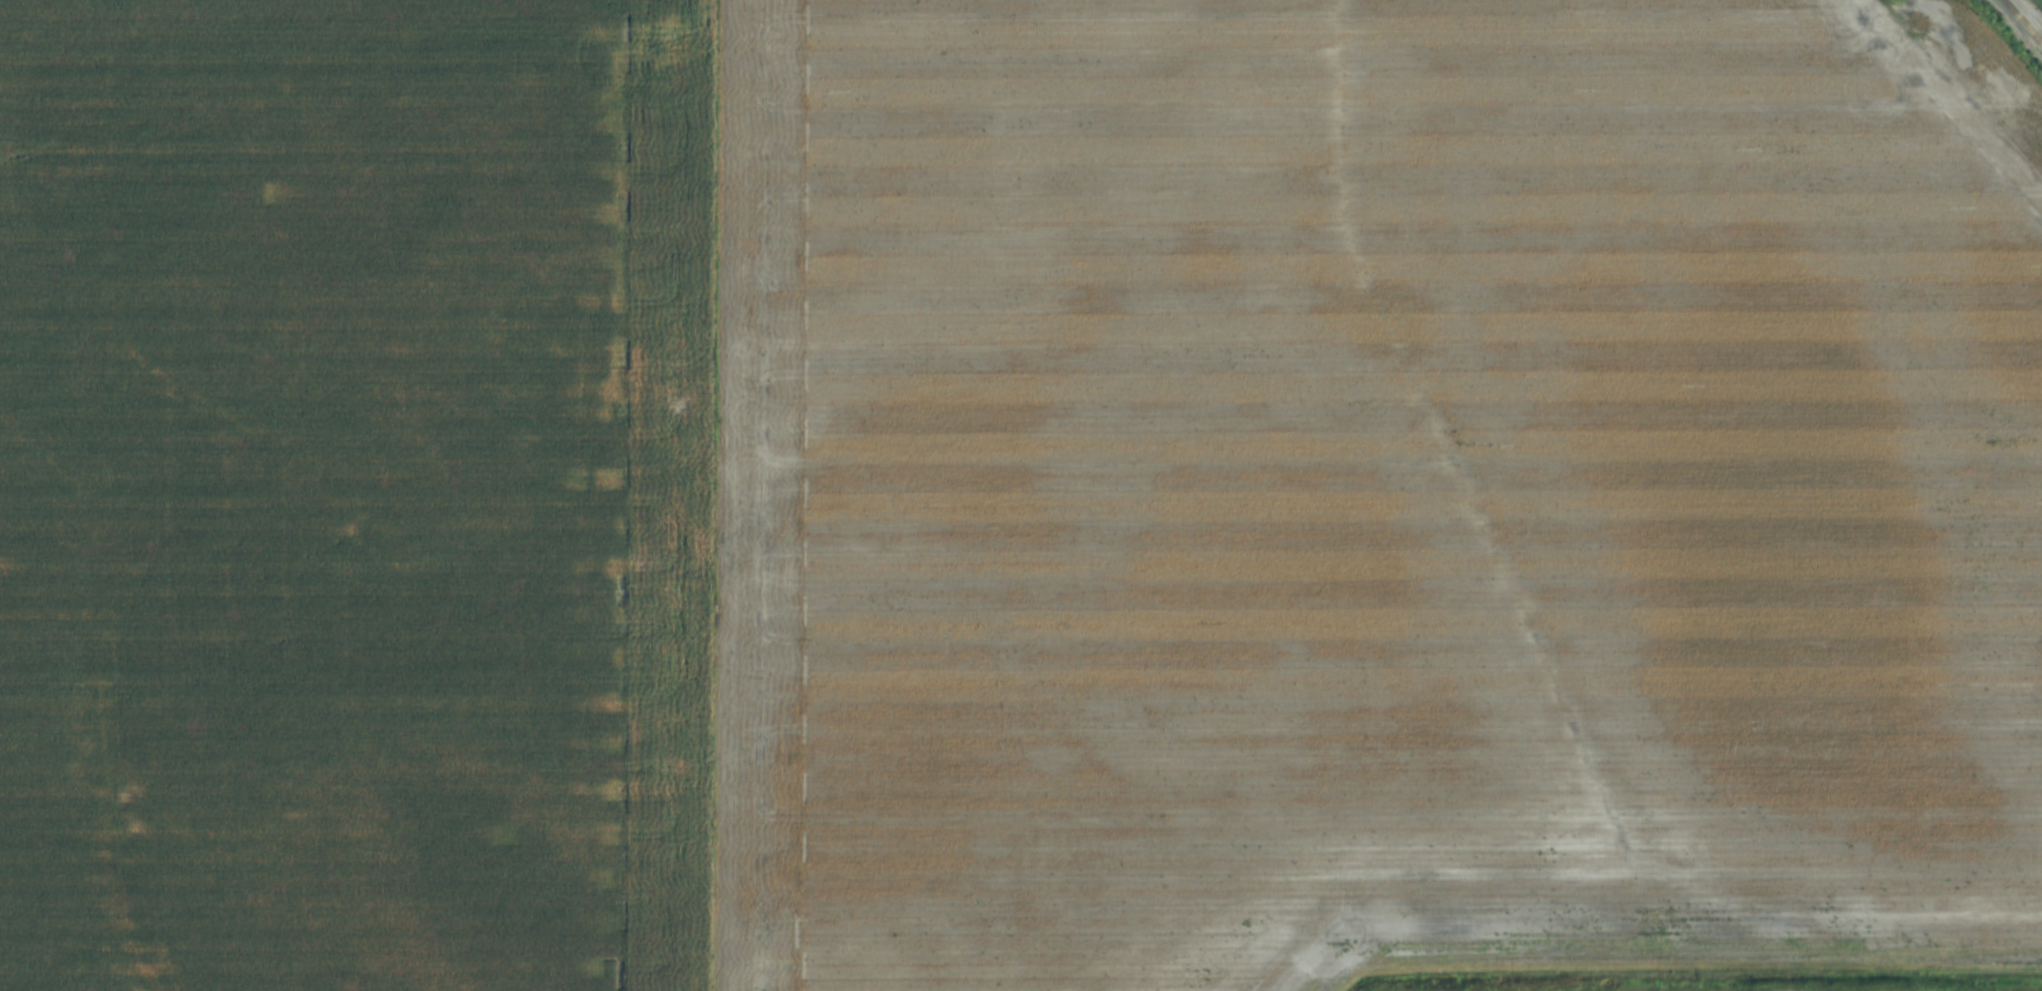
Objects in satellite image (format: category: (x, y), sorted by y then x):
railway: (2020, 23)

